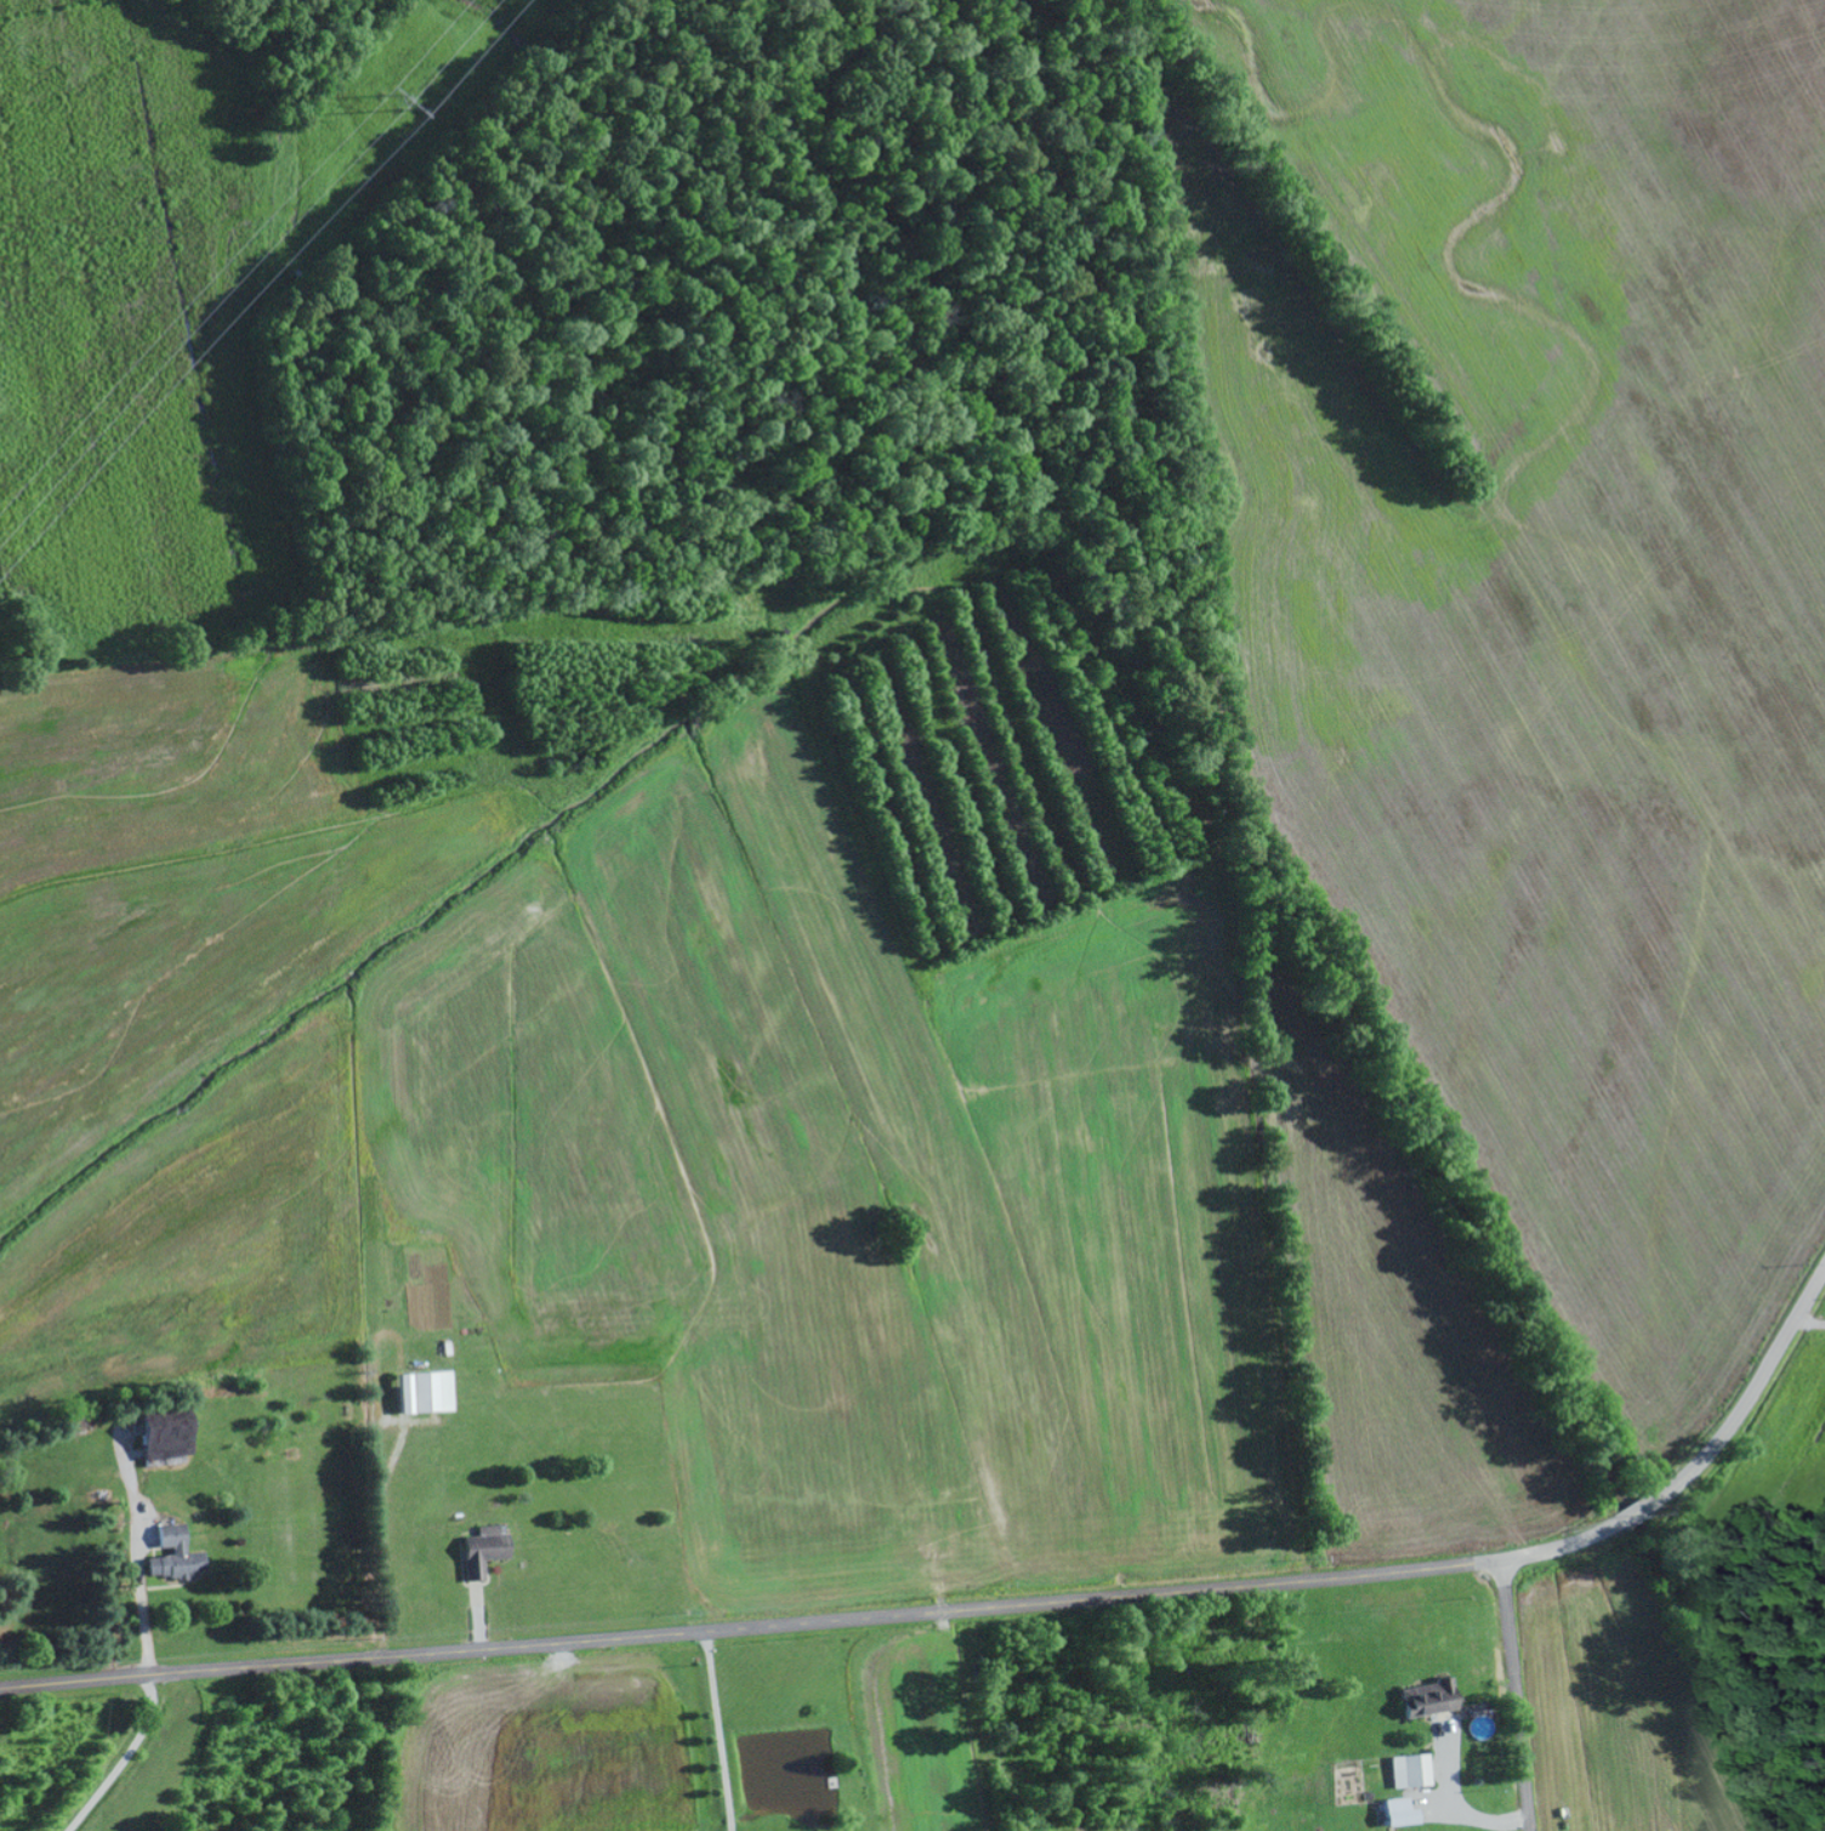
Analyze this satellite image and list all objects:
power tower: (391, 93)
building: (432, 1392)
building: (165, 1443)
building: (483, 1551)
building: (175, 1556)
road: (976, 1610)
road: (1517, 1695)
building: (1428, 1699)
building: (1410, 1772)
building: (1399, 1813)

